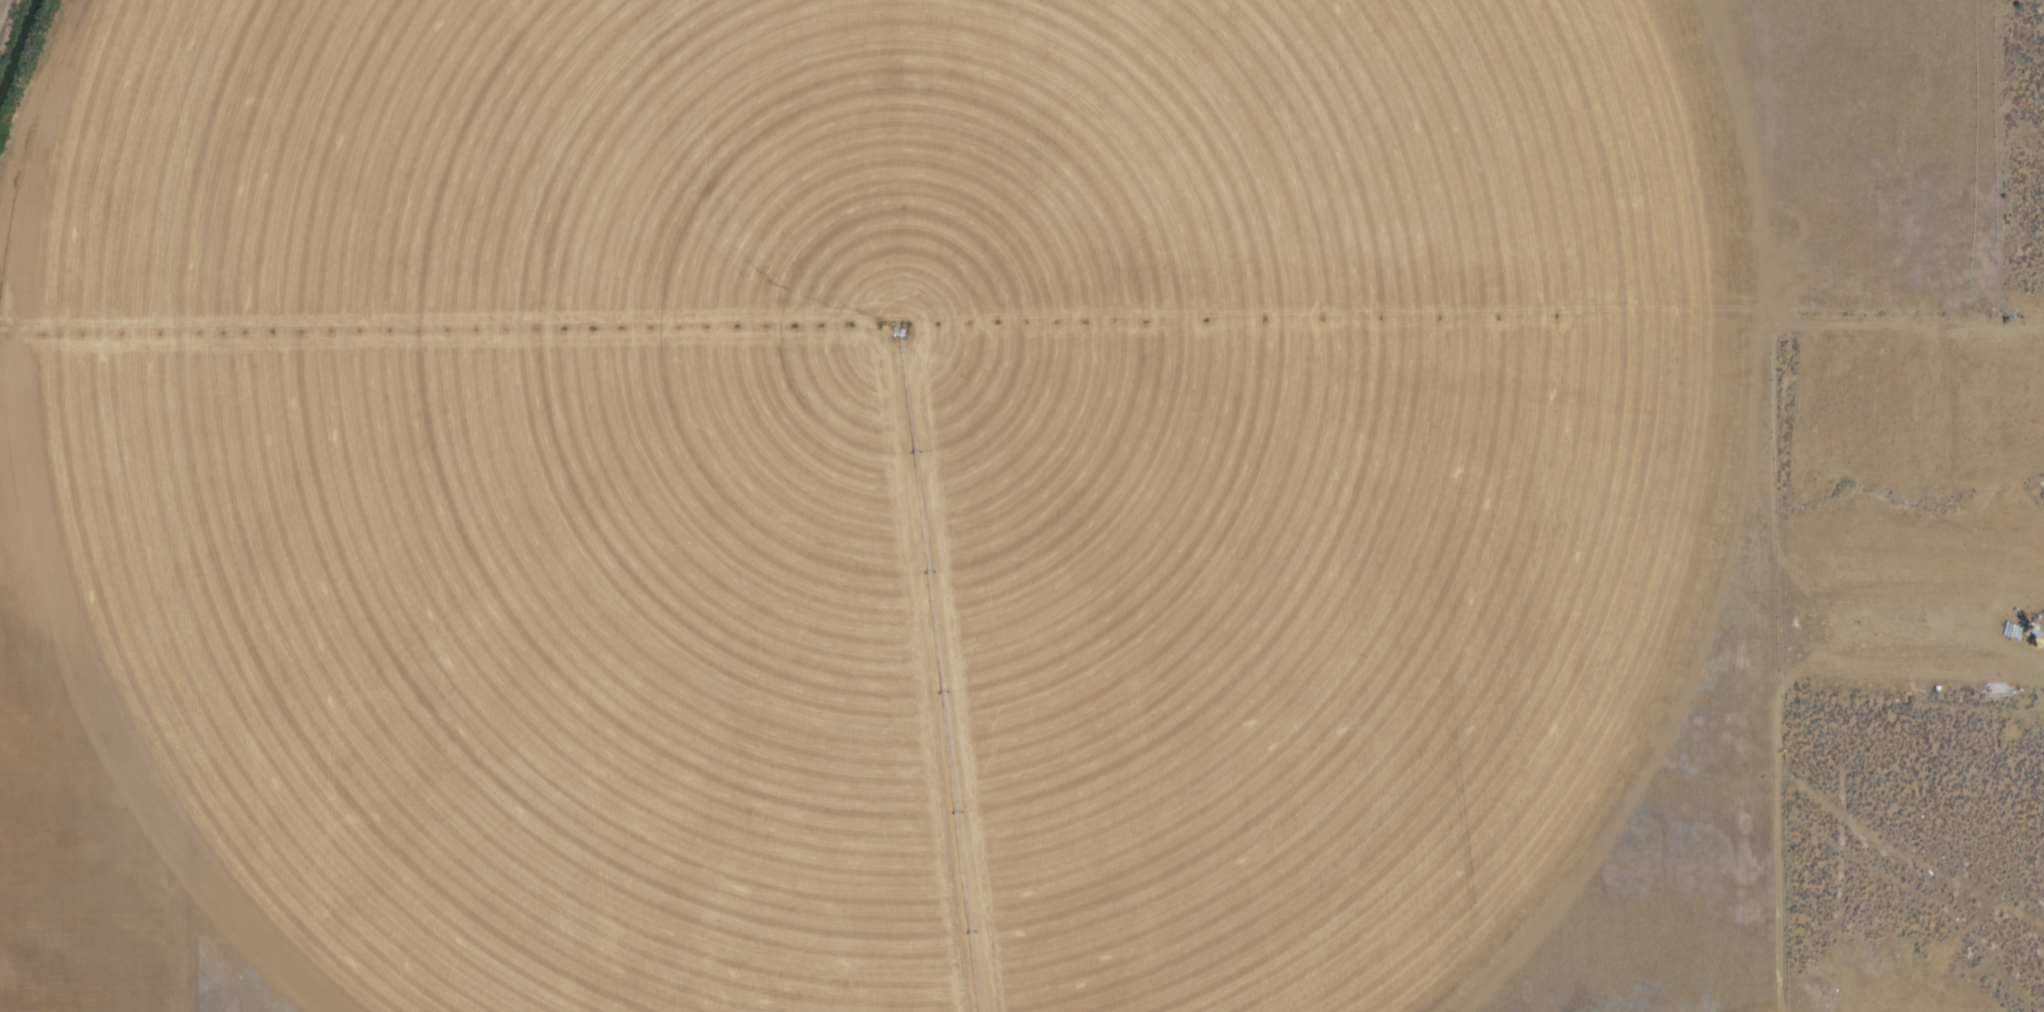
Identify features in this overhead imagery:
crop: (926, 494)
building: (1882, 566)
building: (1936, 601)
building: (1945, 666)

